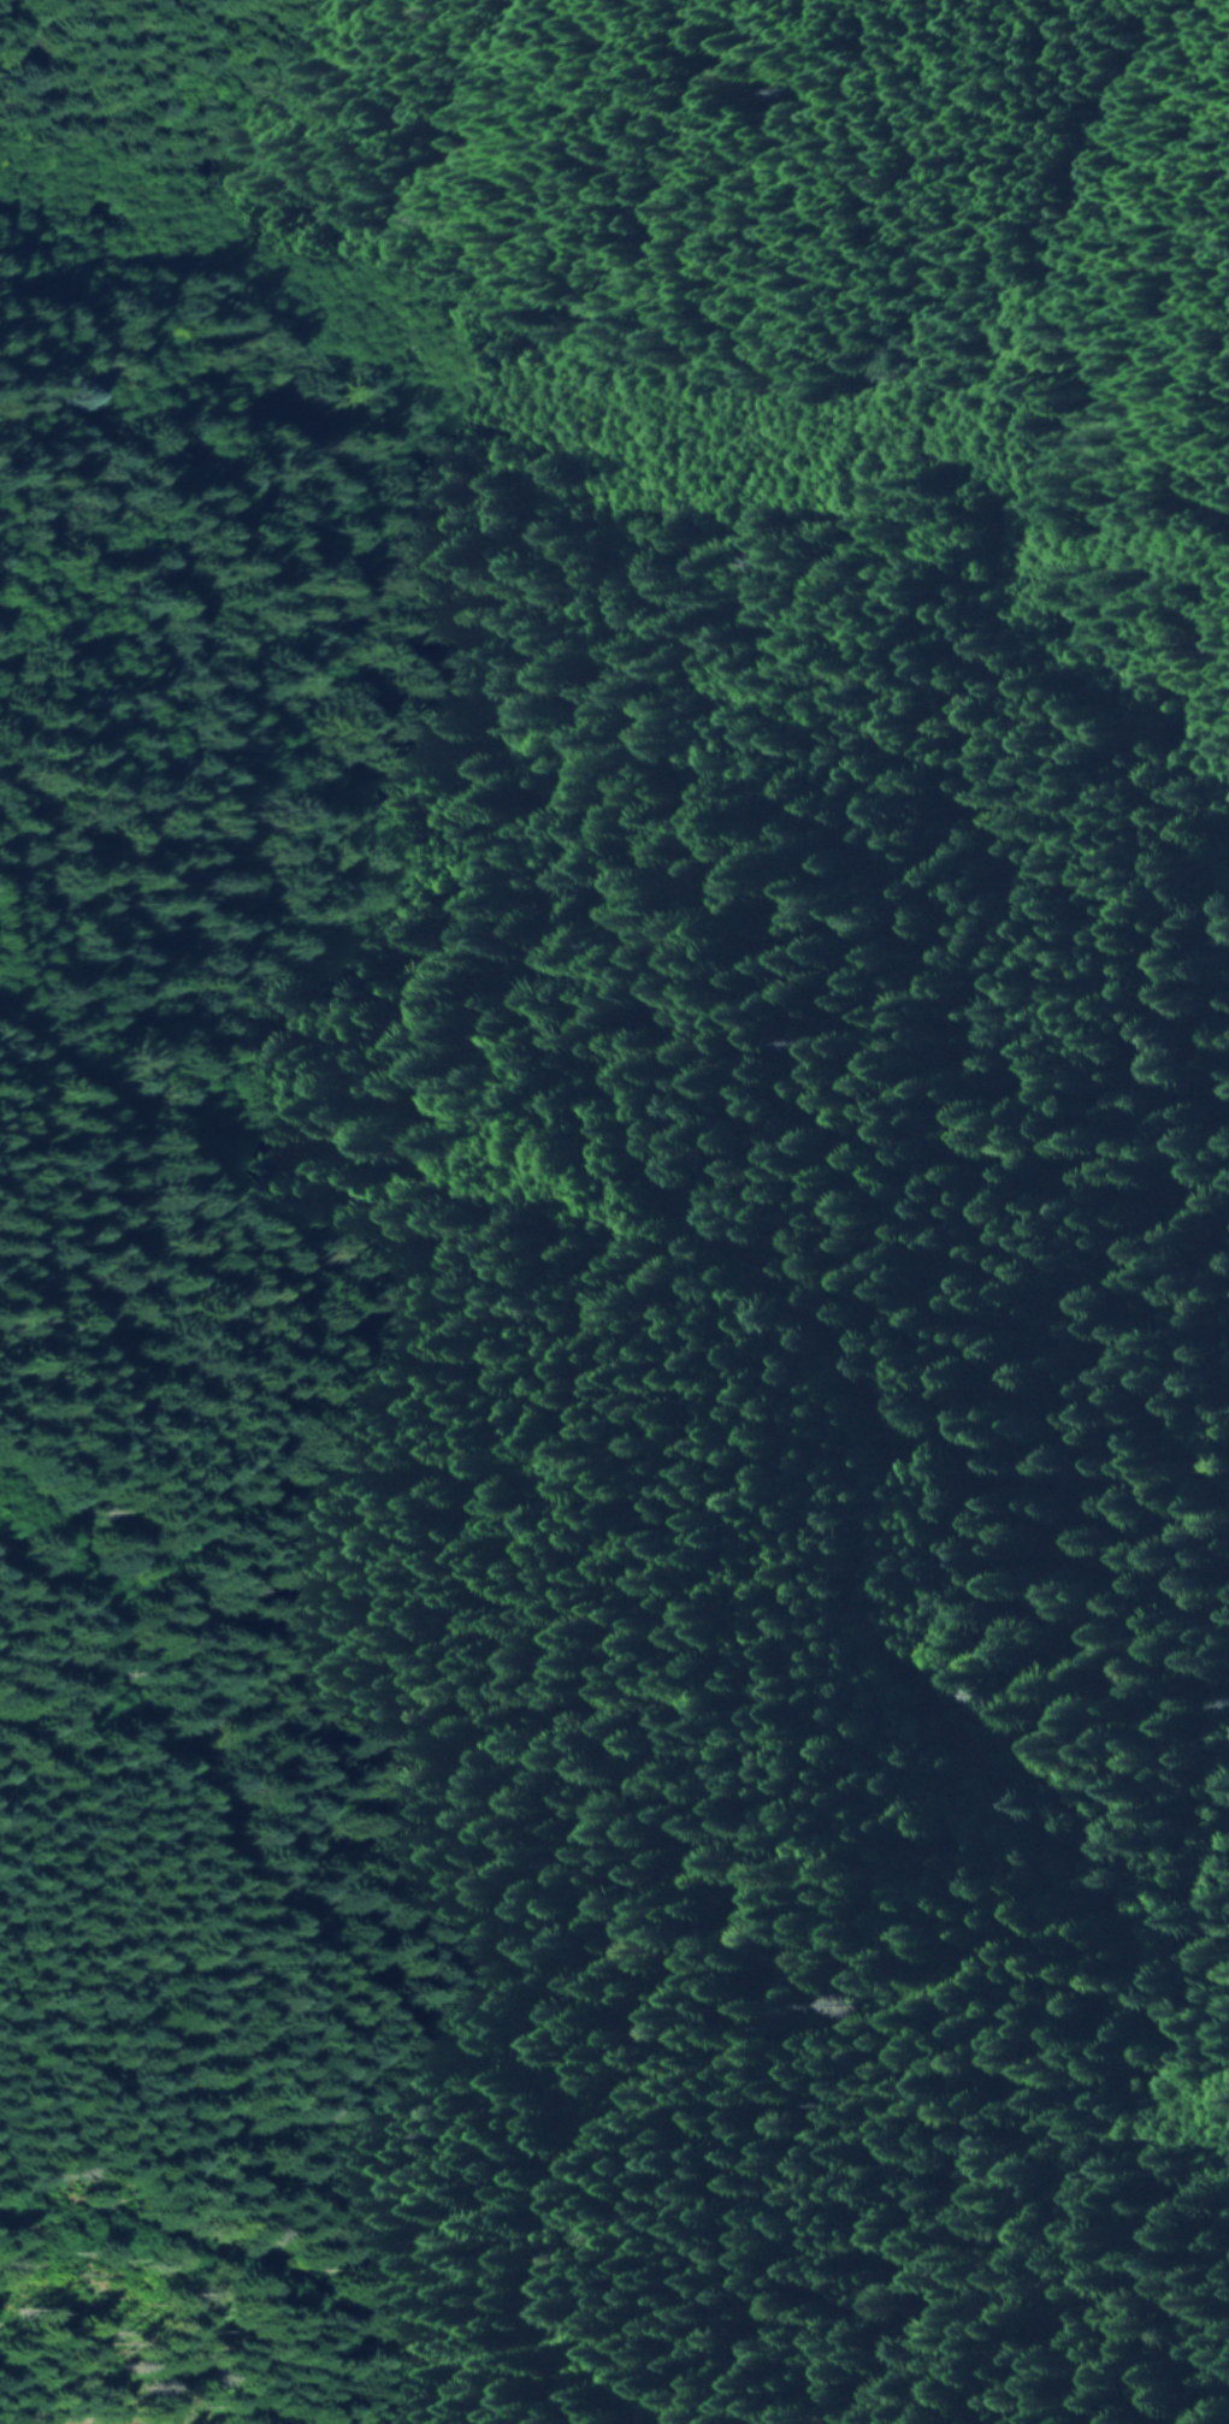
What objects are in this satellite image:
road: (799, 1330)

